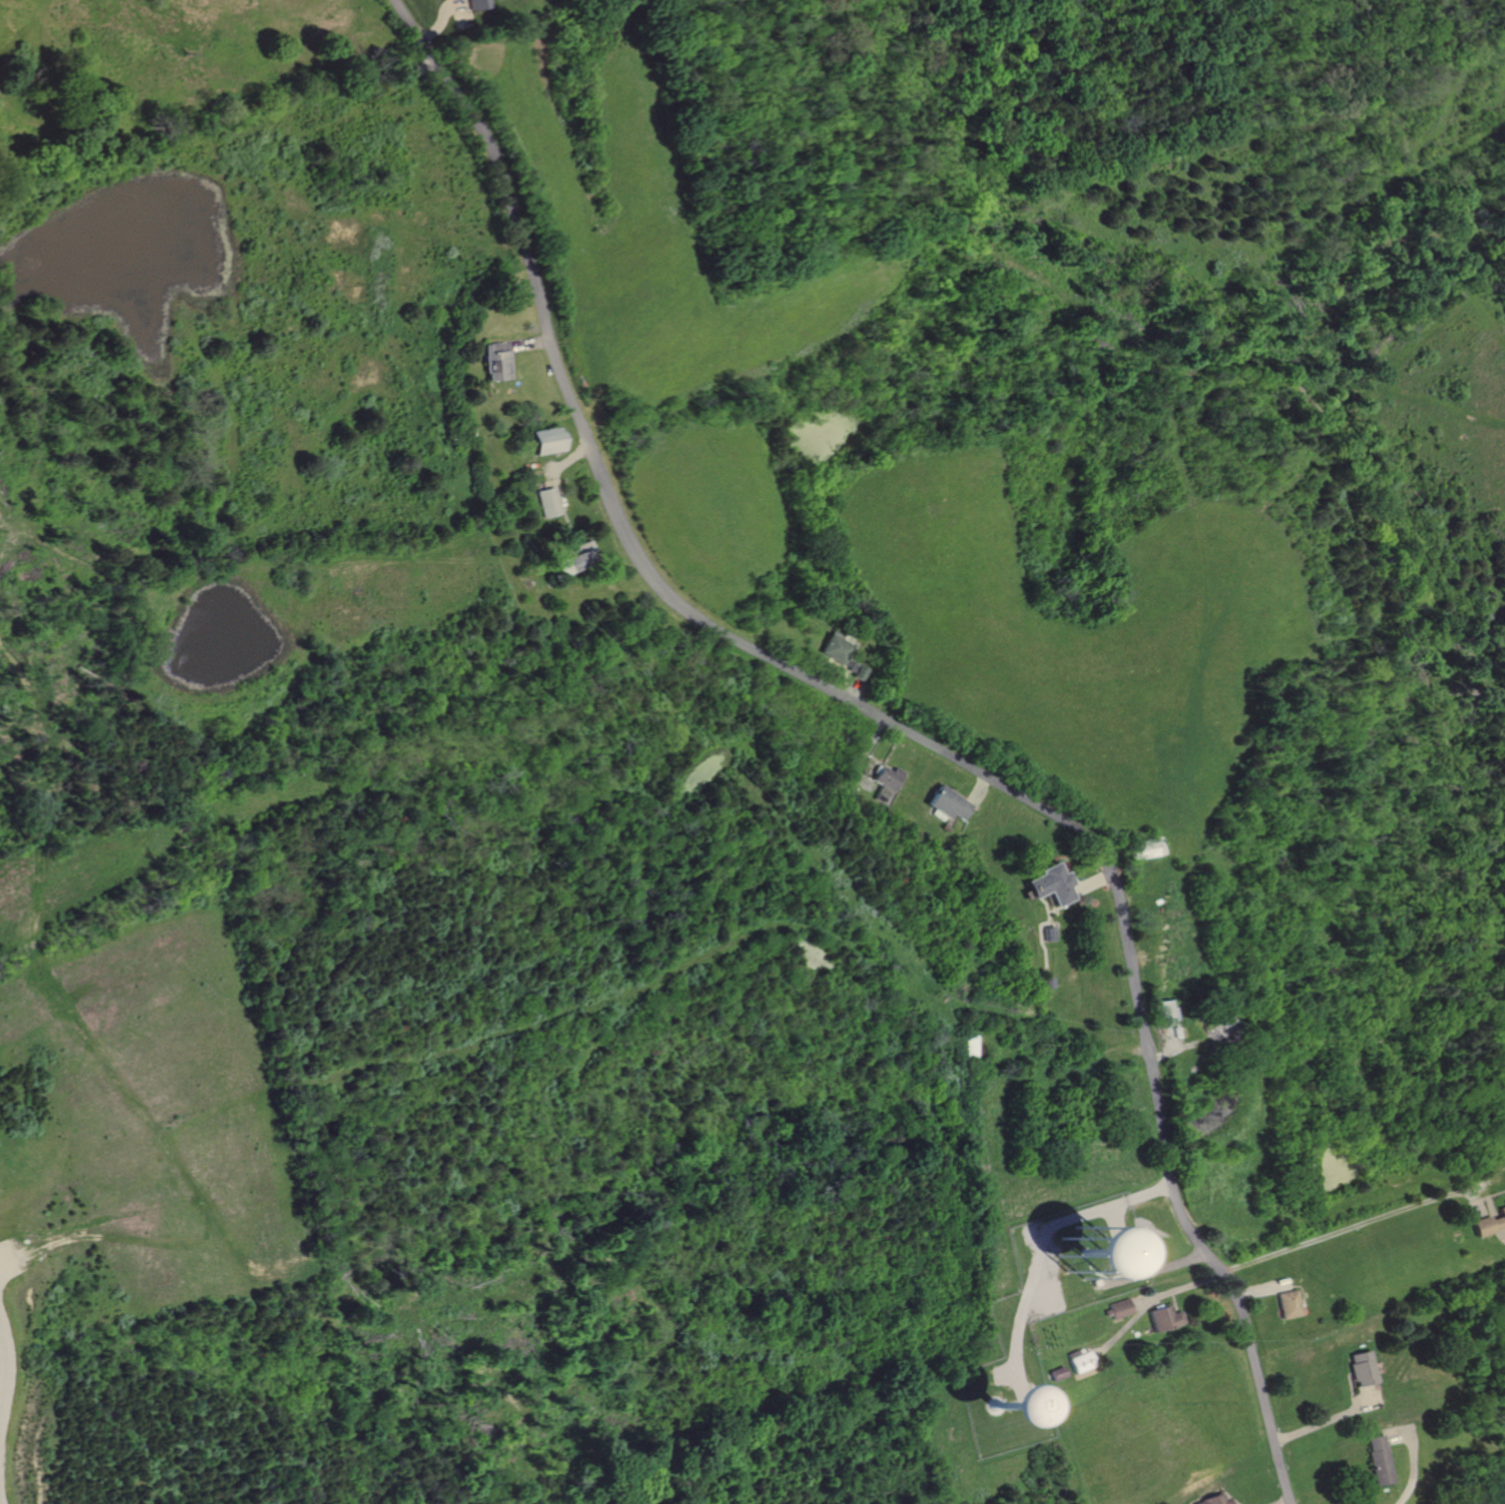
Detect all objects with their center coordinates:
building: (475, 5)
road: (458, 14)
road: (442, 17)
road: (527, 343)
building: (497, 361)
building: (545, 441)
road: (554, 466)
building: (548, 502)
building: (575, 559)
building: (836, 644)
building: (858, 671)
road: (850, 687)
road: (898, 725)
road: (862, 754)
building: (886, 783)
road: (976, 788)
building: (947, 802)
building: (1139, 846)
building: (1052, 882)
road: (1091, 882)
building: (1050, 932)
building: (1160, 1011)
building: (1219, 1035)
building: (1504, 1202)
road: (1355, 1222)
building: (1488, 1223)
road: (1038, 1246)
water tower: (1092, 1246)
building: (1087, 1258)
road: (5, 1260)
road: (1133, 1269)
road: (1255, 1290)
road: (1142, 1301)
road: (1148, 1303)
building: (1284, 1304)
building: (1117, 1307)
building: (1164, 1317)
building: (1079, 1360)
building: (1360, 1368)
building: (1057, 1372)
water tower: (1003, 1401)
building: (1000, 1413)
road: (1332, 1416)
building: (1380, 1459)
road: (1411, 1459)
building: (1217, 1500)
road: (1290, 1503)

